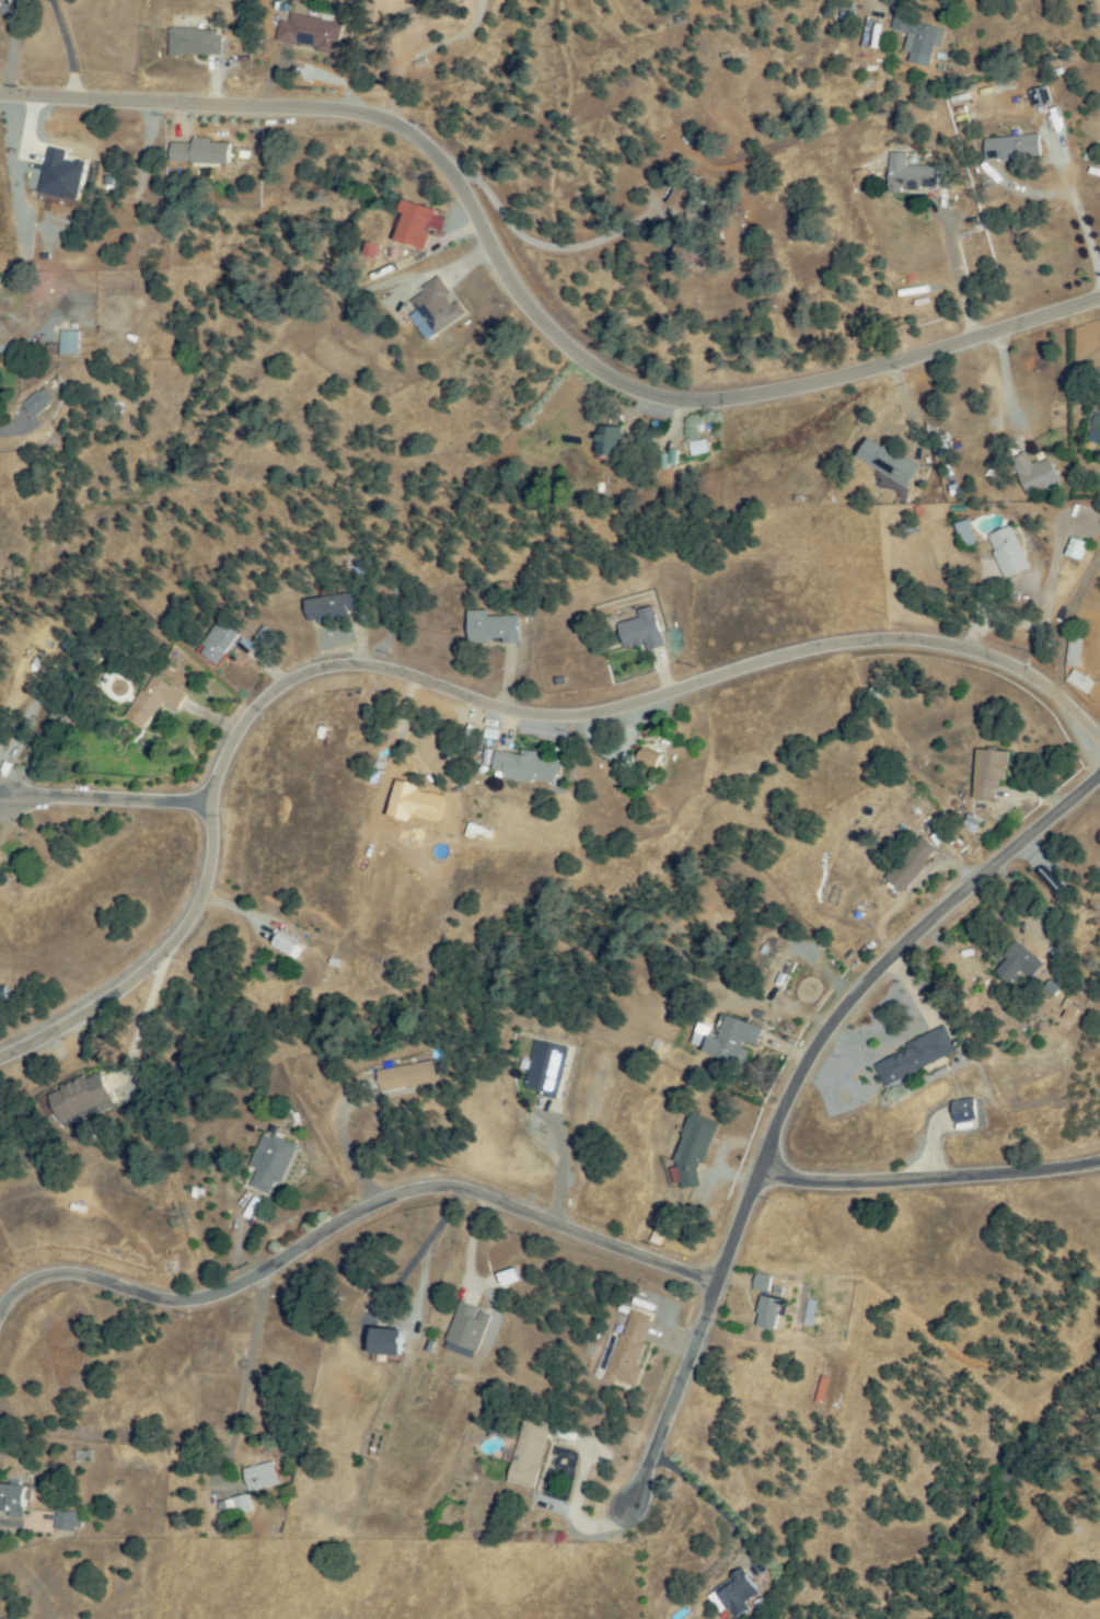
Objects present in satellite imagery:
building: (311, 33)
building: (918, 34)
building: (194, 43)
road: (71, 47)
road: (420, 50)
building: (1041, 97)
building: (1014, 148)
building: (200, 152)
building: (910, 174)
building: (59, 175)
building: (680, 198)
building: (414, 225)
road: (1086, 232)
road: (536, 241)
building: (688, 250)
road: (958, 271)
road: (525, 300)
building: (437, 305)
building: (69, 343)
road: (1008, 382)
building: (37, 403)
building: (1096, 430)
building: (611, 443)
building: (696, 448)
building: (889, 462)
building: (1035, 475)
building: (965, 535)
building: (1076, 550)
building: (1008, 552)
building: (334, 608)
road: (1066, 625)
building: (494, 628)
building: (641, 631)
building: (266, 638)
building: (219, 644)
building: (1072, 651)
building: (1078, 681)
road: (459, 693)
building: (153, 701)
building: (479, 755)
building: (649, 761)
building: (526, 767)
building: (988, 773)
road: (113, 799)
building: (968, 823)
building: (470, 830)
building: (911, 864)
building: (288, 944)
building: (1018, 963)
building: (4, 995)
building: (1064, 1009)
building: (733, 1040)
building: (915, 1057)
building: (546, 1069)
building: (406, 1076)
road: (797, 1082)
building: (78, 1097)
building: (965, 1110)
road: (347, 1148)
building: (693, 1152)
building: (271, 1164)
road: (556, 1168)
road: (929, 1180)
road: (350, 1218)
building: (502, 1276)
building: (763, 1283)
building: (807, 1311)
building: (771, 1312)
building: (466, 1330)
building: (389, 1344)
building: (629, 1351)
road: (242, 1379)
building: (530, 1454)
building: (259, 1476)
building: (13, 1497)
road: (708, 1497)
building: (241, 1504)
road: (572, 1517)
building: (67, 1520)
building: (737, 1593)

